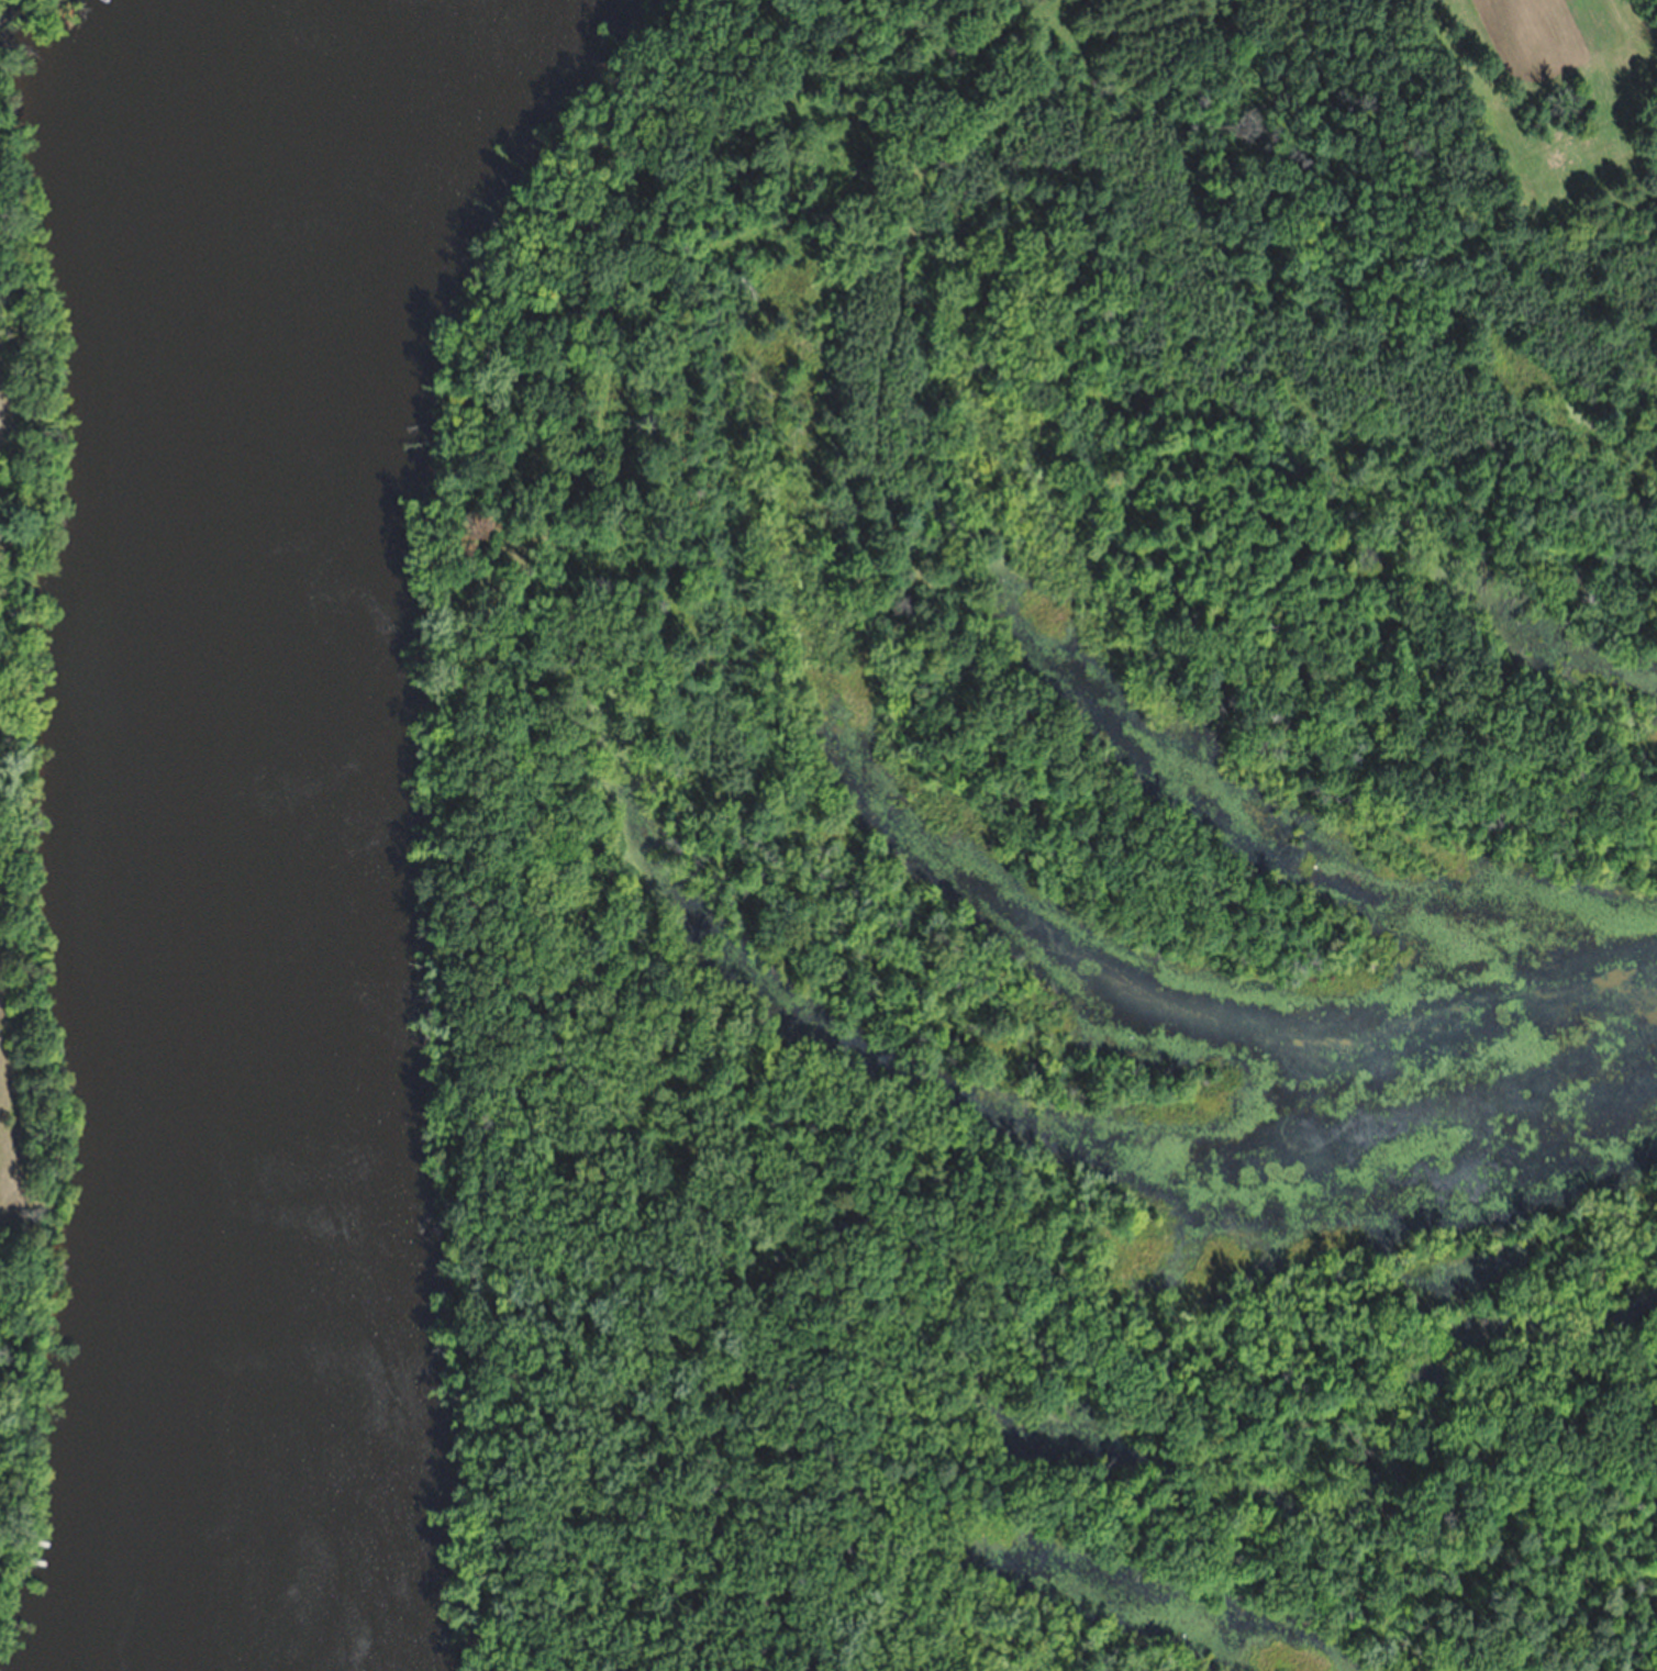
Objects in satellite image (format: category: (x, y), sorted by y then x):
river: (269, 826)

